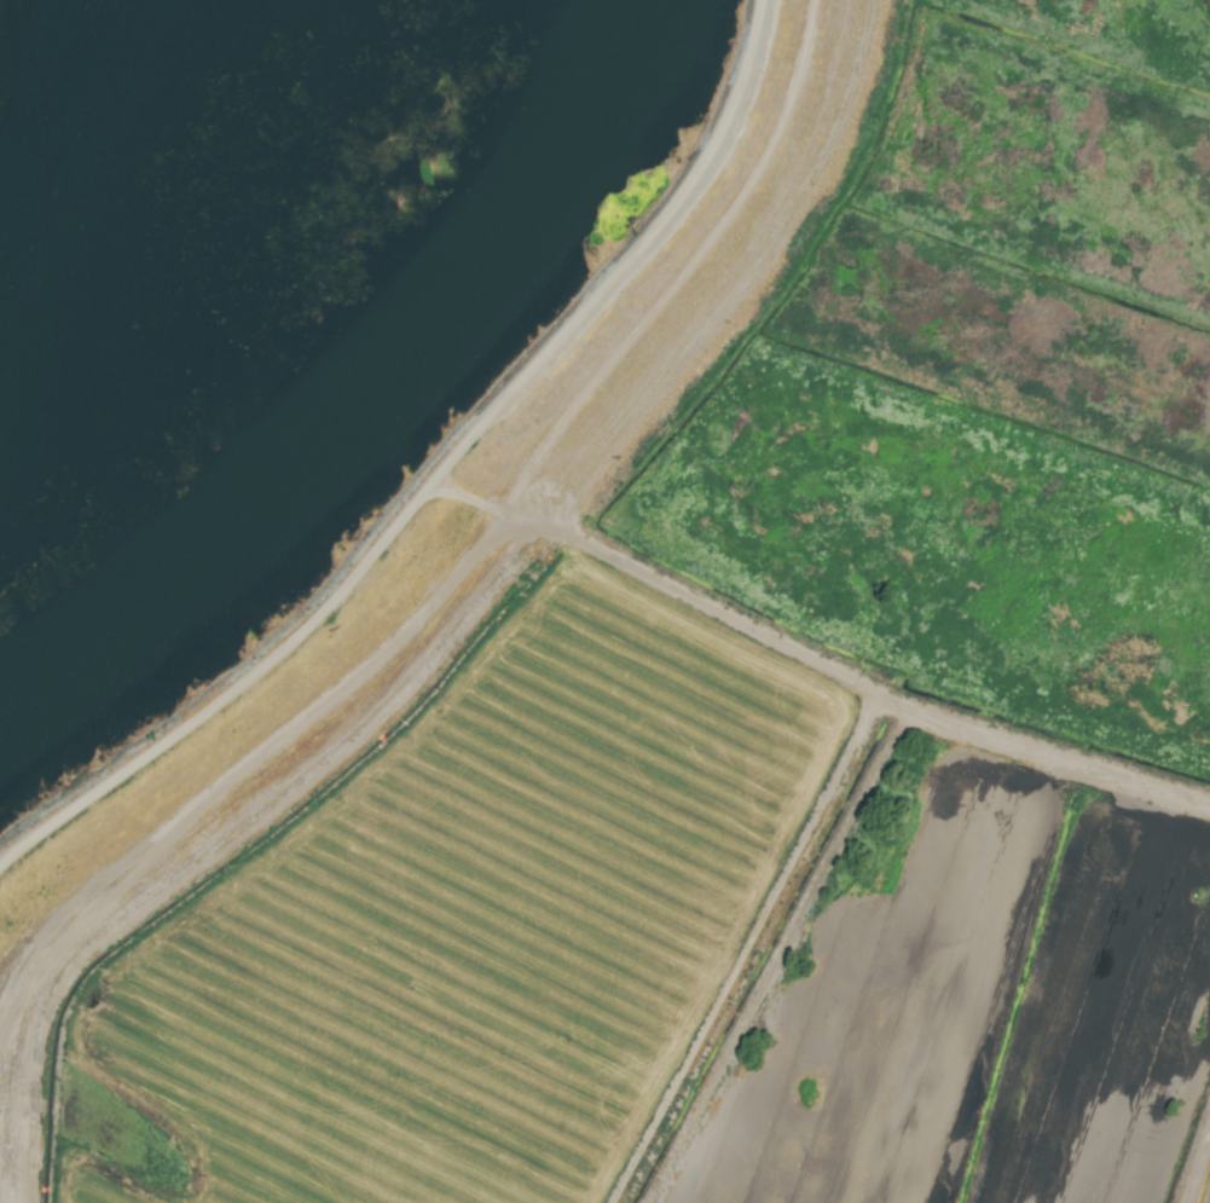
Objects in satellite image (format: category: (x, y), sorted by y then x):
road: (440, 478)
crop: (749, 739)

